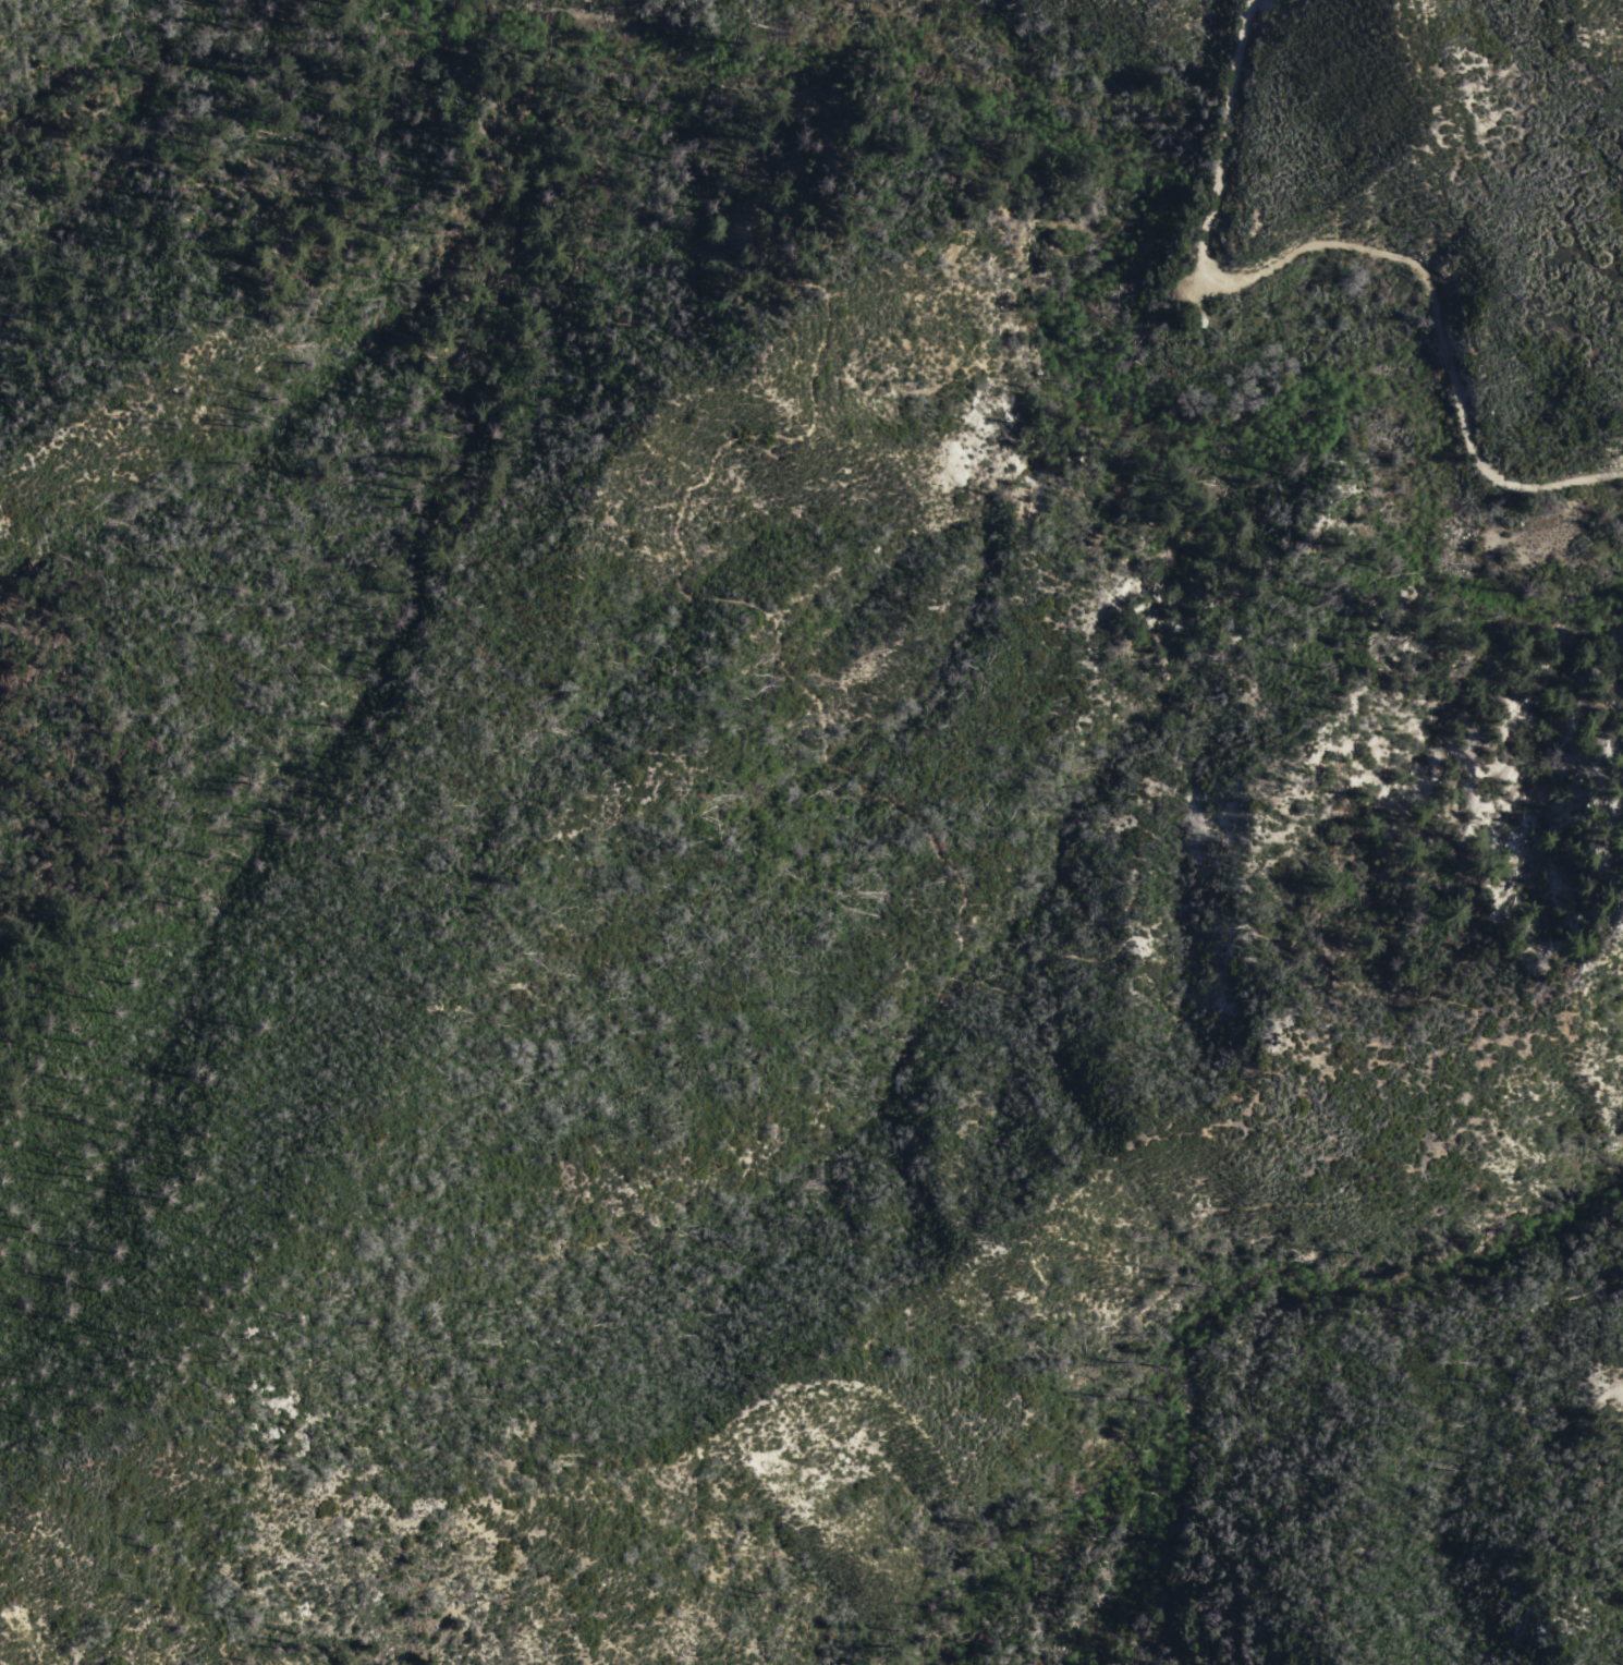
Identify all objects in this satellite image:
road: (1352, 251)
road: (915, 818)
road: (1171, 1544)

